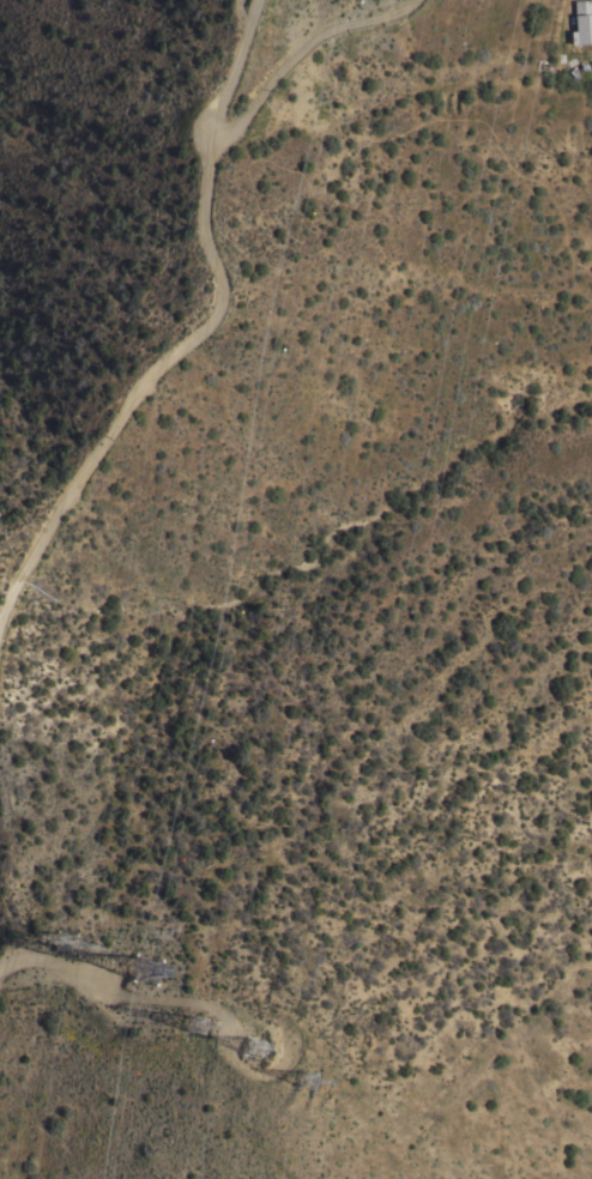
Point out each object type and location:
building: (581, 22)
road: (183, 318)
power tower: (72, 960)
power tower: (197, 1028)
power tower: (146, 1032)
power tower: (260, 1054)
power tower: (315, 1101)

